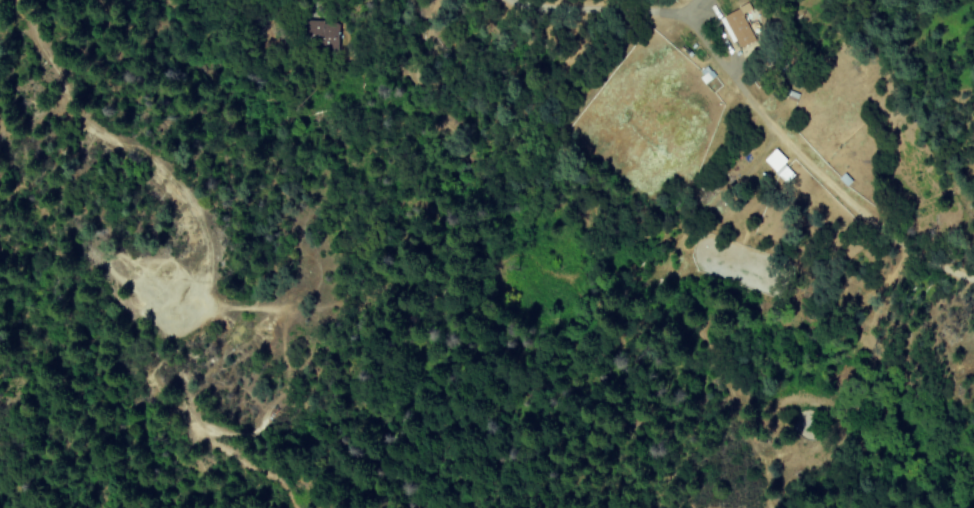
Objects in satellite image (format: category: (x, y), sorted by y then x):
building: (736, 26)
building: (324, 34)
building: (705, 75)
road: (756, 107)
building: (773, 160)
building: (784, 175)

